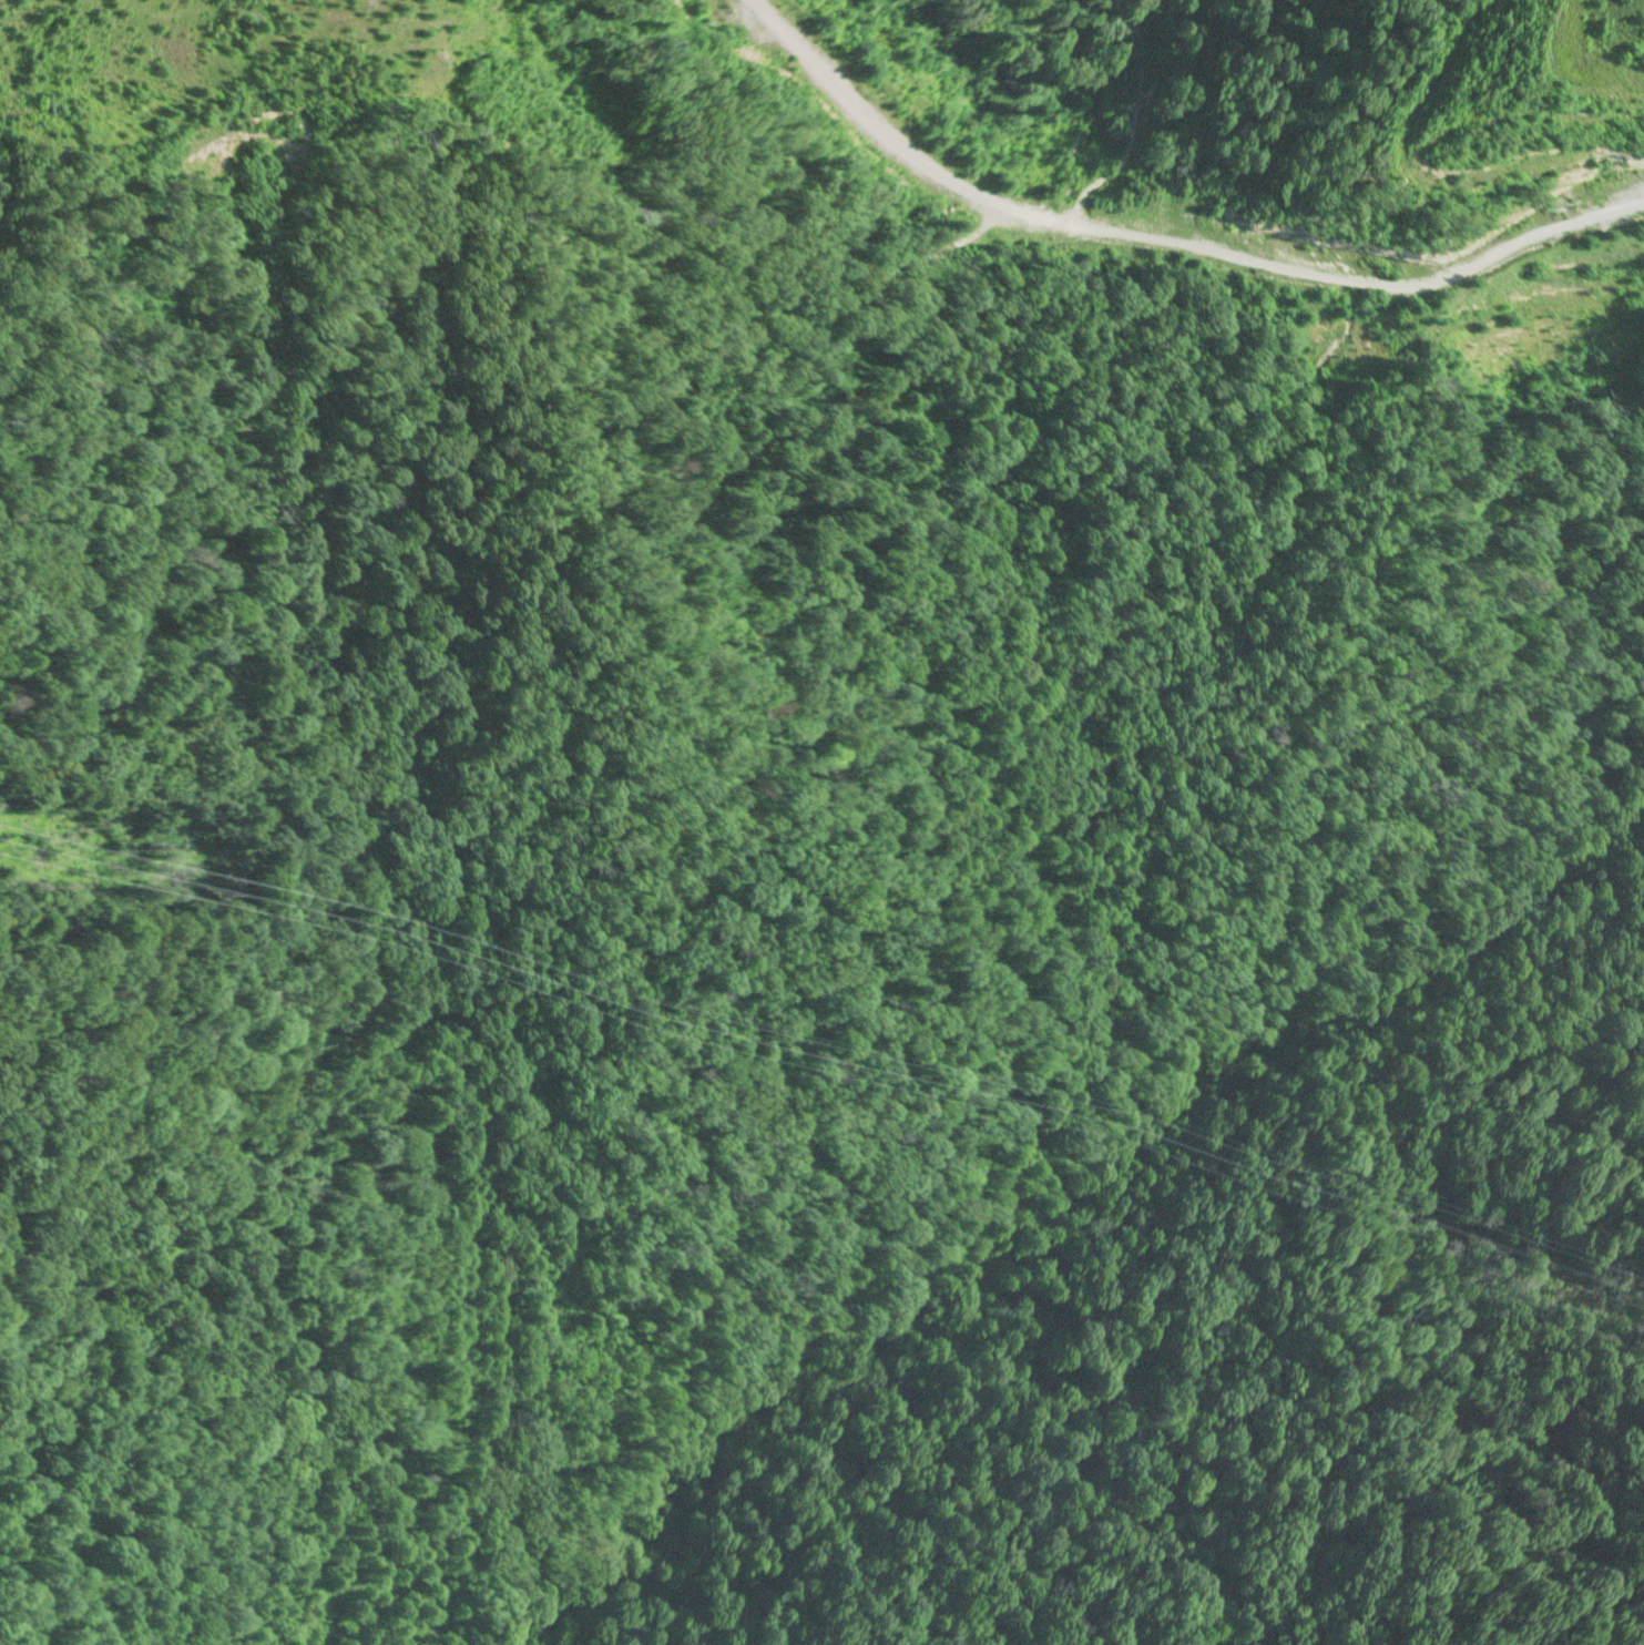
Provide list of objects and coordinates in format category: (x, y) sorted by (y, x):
road: (888, 55)

